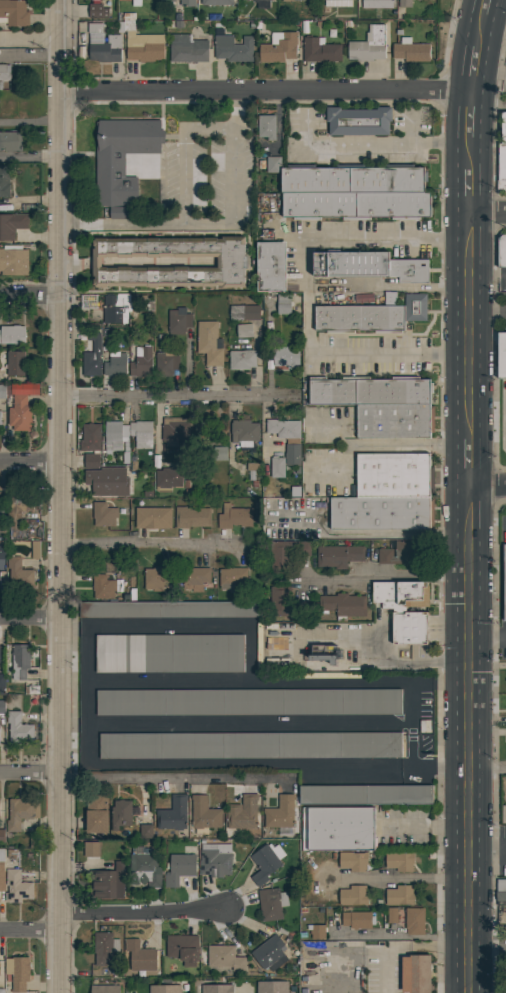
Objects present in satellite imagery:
building: (91, 0)
building: (172, 0)
building: (288, 0)
building: (334, 0)
building: (216, 2)
building: (136, 3)
building: (187, 3)
building: (345, 3)
building: (404, 3)
building: (262, 4)
building: (377, 4)
building: (97, 11)
building: (14, 13)
road: (28, 41)
building: (141, 42)
building: (103, 44)
building: (369, 45)
building: (279, 47)
building: (233, 48)
building: (187, 49)
building: (320, 50)
building: (410, 50)
building: (4, 72)
building: (1, 85)
road: (263, 87)
road: (235, 109)
building: (358, 120)
building: (266, 126)
building: (503, 127)
road: (28, 128)
building: (11, 141)
road: (388, 145)
road: (182, 150)
road: (28, 157)
building: (122, 157)
building: (273, 164)
building: (501, 168)
road: (234, 177)
building: (352, 178)
building: (4, 181)
building: (356, 205)
building: (30, 208)
building: (123, 212)
road: (488, 215)
road: (145, 221)
building: (11, 225)
building: (502, 250)
building: (13, 260)
building: (231, 262)
road: (134, 263)
building: (270, 266)
building: (368, 266)
road: (307, 294)
road: (28, 301)
building: (85, 302)
building: (283, 303)
building: (116, 307)
building: (244, 312)
building: (370, 316)
building: (178, 321)
building: (277, 326)
building: (244, 330)
building: (12, 334)
building: (209, 343)
building: (501, 355)
building: (92, 357)
building: (286, 357)
building: (242, 359)
building: (141, 362)
building: (15, 363)
building: (166, 363)
building: (115, 365)
building: (2, 390)
building: (369, 390)
road: (176, 397)
road: (505, 409)
building: (20, 413)
building: (394, 421)
road: (156, 425)
building: (202, 430)
building: (284, 430)
building: (171, 431)
building: (244, 432)
building: (141, 433)
building: (112, 435)
building: (90, 437)
road: (414, 443)
building: (217, 454)
building: (289, 455)
building: (91, 460)
road: (28, 461)
building: (277, 466)
building: (252, 470)
building: (393, 475)
building: (168, 479)
building: (108, 481)
road: (487, 489)
road: (468, 495)
road: (57, 496)
building: (380, 513)
building: (104, 514)
building: (18, 516)
building: (191, 517)
building: (234, 517)
building: (153, 518)
building: (3, 529)
road: (148, 542)
building: (35, 549)
building: (24, 550)
building: (2, 552)
building: (402, 552)
building: (286, 553)
building: (338, 555)
building: (18, 572)
road: (386, 575)
building: (156, 577)
building: (195, 578)
building: (232, 578)
building: (504, 578)
building: (103, 586)
building: (400, 595)
building: (286, 603)
building: (344, 604)
building: (170, 609)
road: (28, 617)
building: (409, 628)
road: (487, 636)
building: (258, 648)
building: (169, 653)
building: (324, 656)
building: (20, 661)
building: (310, 675)
building: (505, 675)
building: (2, 683)
building: (31, 689)
building: (248, 702)
building: (2, 706)
building: (505, 708)
building: (424, 725)
building: (18, 728)
building: (250, 745)
building: (505, 747)
road: (488, 769)
road: (28, 771)
road: (172, 777)
building: (366, 794)
building: (20, 813)
building: (96, 813)
building: (121, 813)
building: (173, 813)
building: (280, 814)
building: (204, 815)
building: (243, 815)
road: (424, 822)
building: (338, 828)
building: (145, 831)
building: (2, 836)
building: (34, 841)
building: (91, 849)
building: (214, 861)
building: (353, 861)
building: (399, 861)
building: (265, 862)
building: (145, 869)
building: (179, 869)
building: (2, 871)
road: (398, 877)
building: (107, 882)
building: (19, 884)
building: (500, 892)
building: (353, 895)
building: (399, 895)
building: (271, 904)
road: (142, 912)
building: (392, 915)
building: (357, 919)
building: (414, 921)
building: (317, 929)
road: (28, 930)
road: (400, 935)
building: (104, 947)
building: (183, 948)
building: (269, 953)
road: (488, 953)
building: (140, 956)
building: (225, 957)
building: (116, 970)
building: (18, 972)
building: (419, 973)
building: (271, 987)
building: (217, 988)
building: (104, 989)
building: (164, 989)
building: (2, 991)

